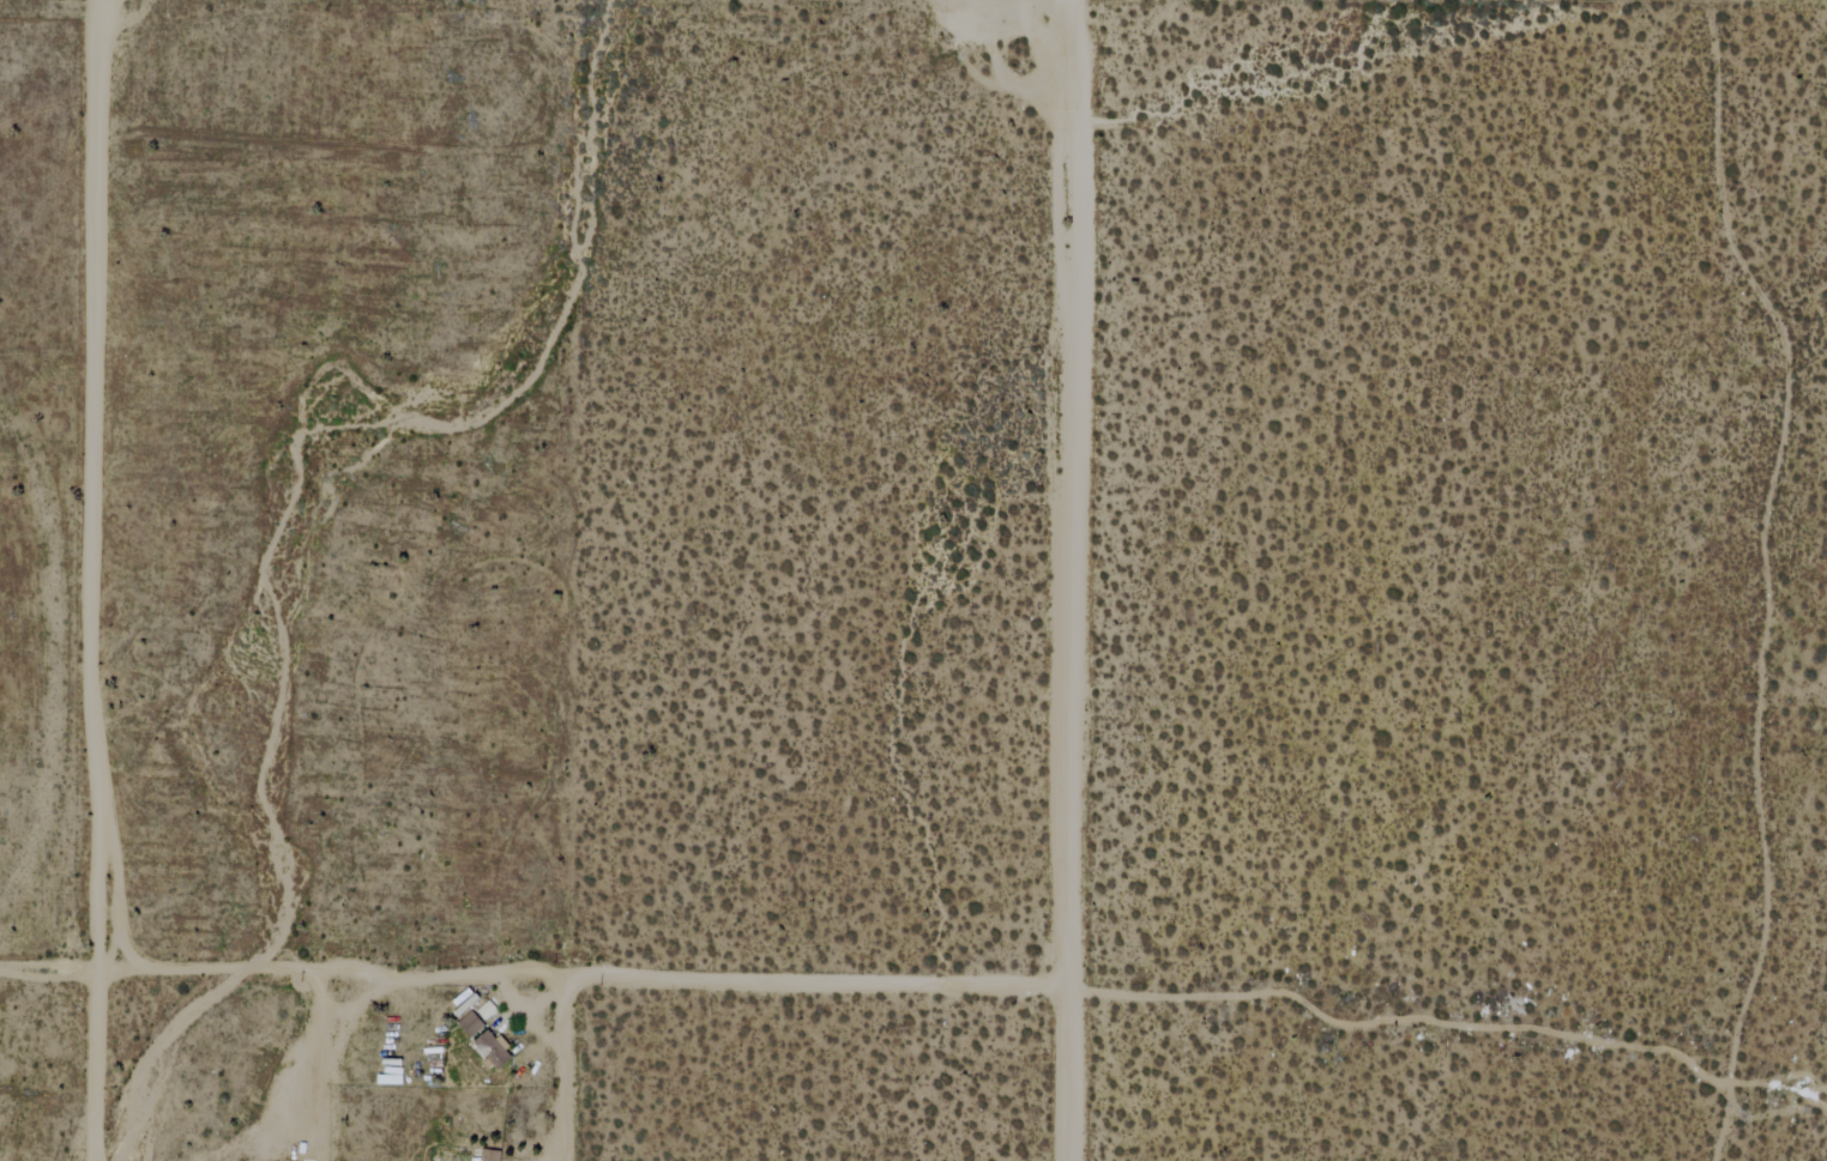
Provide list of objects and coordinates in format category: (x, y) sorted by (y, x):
road: (94, 488)
road: (1768, 578)
road: (1071, 580)
road: (50, 974)
road: (584, 980)
road: (356, 1003)
road: (1447, 1023)
building: (471, 1024)
building: (493, 1051)
road: (312, 1059)
road: (100, 1068)
road: (571, 1070)
building: (493, 1155)
building: (475, 1160)

